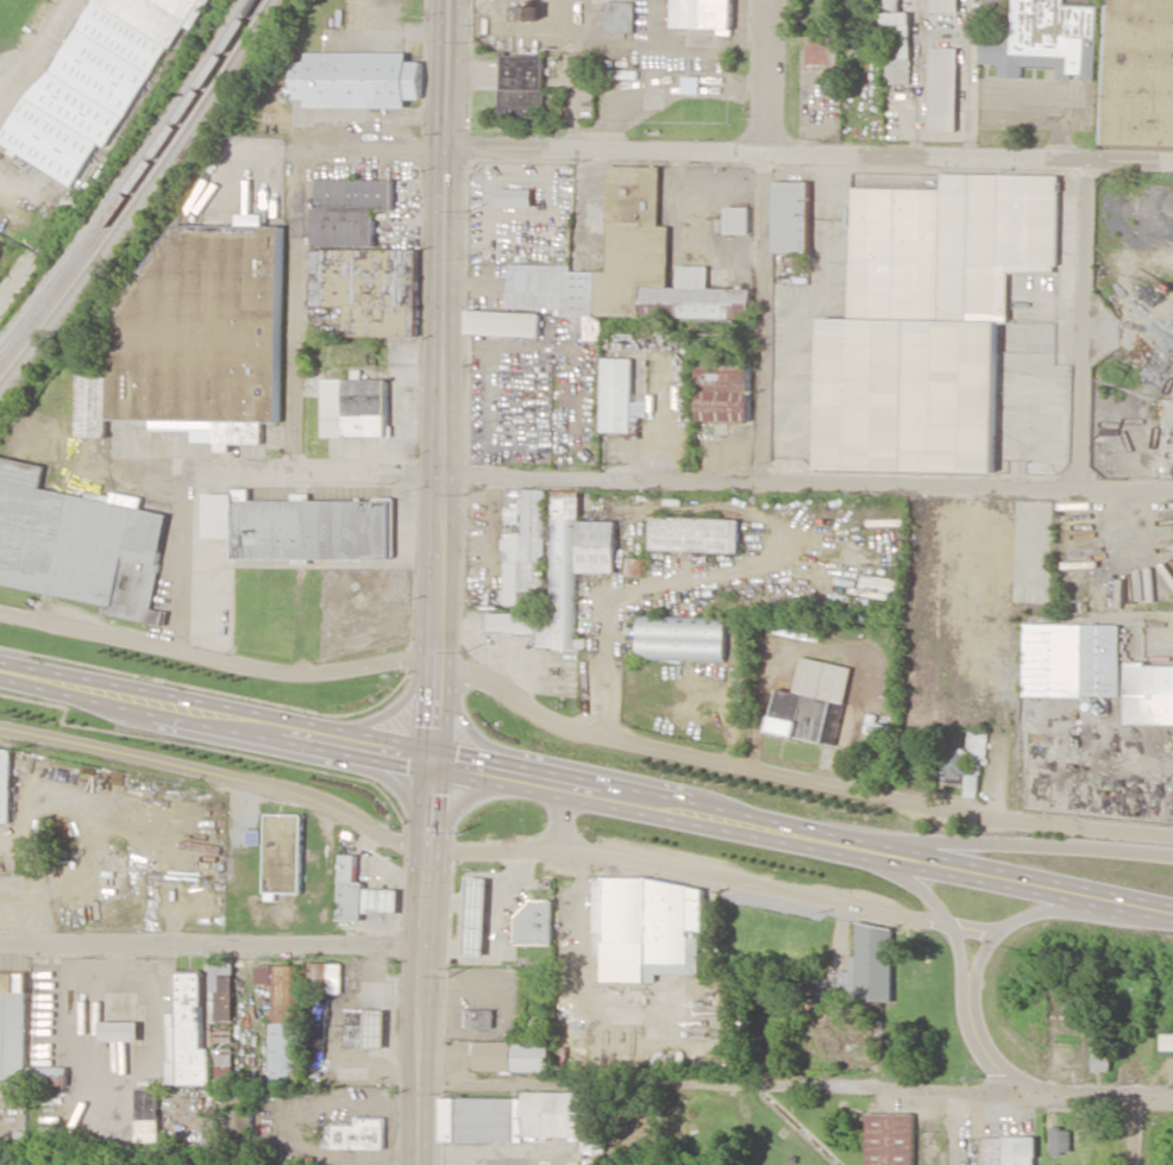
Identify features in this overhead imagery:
building: (893, 5)
building: (945, 5)
building: (704, 13)
building: (621, 17)
building: (1043, 38)
building: (897, 48)
building: (822, 52)
building: (1138, 73)
building: (98, 80)
building: (356, 80)
building: (694, 84)
building: (521, 87)
building: (943, 88)
traffic signals: (446, 146)
road: (744, 152)
railway: (126, 176)
railway: (133, 186)
railway: (139, 194)
building: (515, 196)
building: (347, 209)
building: (792, 215)
building: (739, 219)
road: (765, 242)
building: (0, 244)
building: (628, 268)
building: (363, 277)
road: (294, 303)
building: (929, 320)
building: (502, 322)
road: (1084, 325)
building: (194, 338)
building: (723, 393)
building: (620, 396)
building: (353, 407)
road: (320, 475)
road: (807, 484)
building: (300, 527)
building: (695, 534)
building: (79, 544)
building: (522, 547)
building: (634, 565)
building: (563, 574)
road: (438, 582)
road: (977, 601)
building: (682, 638)
building: (1073, 659)
road: (217, 660)
building: (1149, 694)
road: (139, 697)
road: (385, 710)
road: (465, 722)
building: (878, 727)
road: (356, 739)
traffic signals: (433, 753)
building: (968, 762)
road: (516, 771)
road: (379, 773)
road: (218, 776)
road: (795, 779)
building: (5, 784)
road: (469, 798)
road: (741, 821)
building: (252, 837)
road: (1027, 844)
building: (283, 853)
road: (713, 877)
road: (1027, 882)
building: (360, 894)
road: (1024, 912)
road: (939, 913)
building: (475, 916)
building: (534, 923)
building: (645, 927)
road: (212, 933)
building: (870, 965)
building: (325, 977)
building: (222, 1017)
building: (478, 1017)
building: (284, 1021)
building: (13, 1026)
building: (365, 1028)
building: (120, 1031)
building: (188, 1034)
building: (1165, 1040)
building: (773, 1041)
road: (984, 1046)
building: (1098, 1054)
building: (512, 1056)
road: (797, 1082)
building: (146, 1115)
building: (519, 1119)
building: (240, 1120)
road: (1131, 1128)
building: (357, 1134)
building: (889, 1139)
building: (1059, 1140)
building: (1008, 1150)

